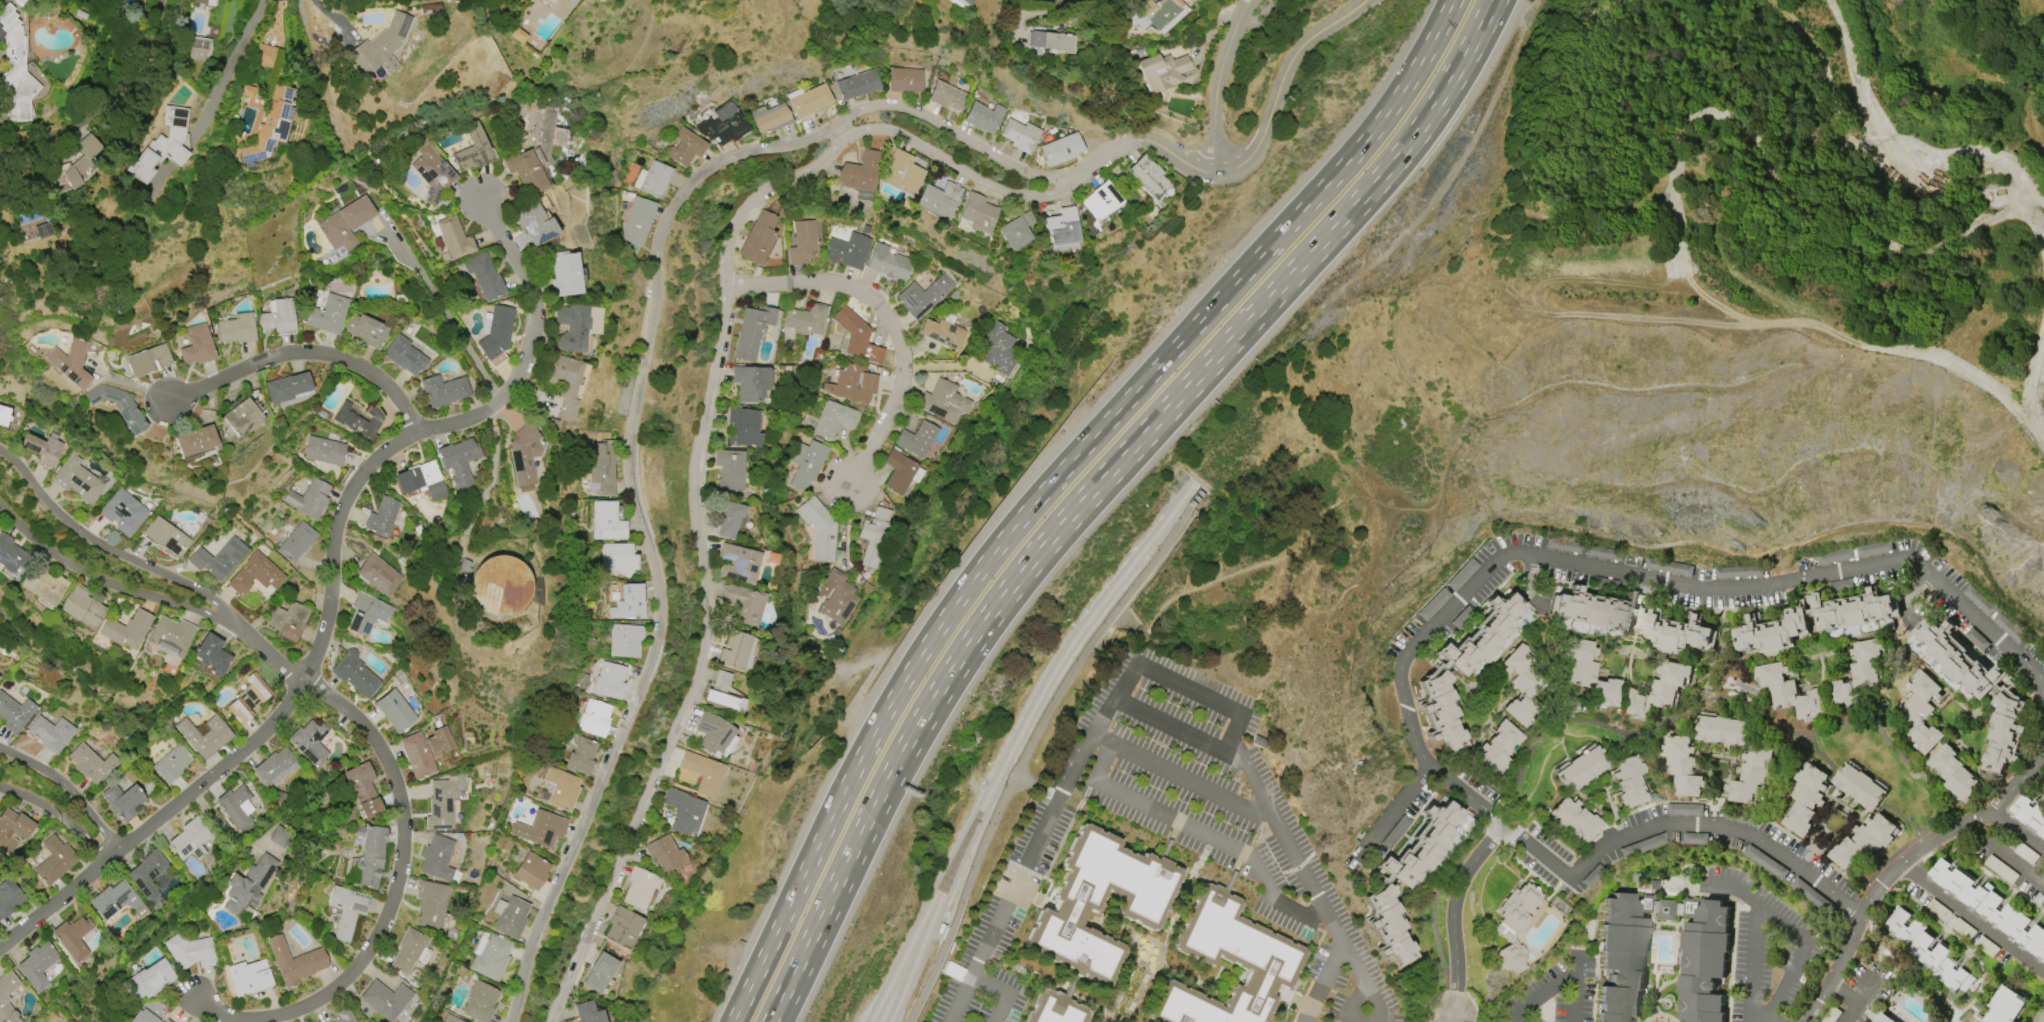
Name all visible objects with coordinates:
building: (556, 0)
building: (598, 0)
building: (601, 0)
building: (21, 2)
building: (205, 2)
building: (548, 2)
building: (964, 2)
building: (1152, 14)
road: (338, 18)
road: (1232, 34)
building: (1050, 41)
building: (382, 45)
building: (196, 47)
building: (265, 56)
road: (243, 61)
road: (1847, 63)
building: (15, 68)
building: (1162, 71)
building: (905, 80)
building: (858, 85)
road: (1283, 87)
building: (946, 97)
building: (810, 101)
road: (106, 102)
building: (983, 117)
building: (770, 118)
road: (1213, 123)
building: (722, 125)
building: (269, 126)
road: (840, 132)
road: (957, 135)
building: (1019, 135)
road: (1145, 141)
building: (162, 145)
building: (685, 148)
building: (1061, 149)
building: (474, 150)
building: (75, 166)
building: (525, 171)
road: (963, 171)
building: (861, 172)
building: (901, 172)
building: (432, 174)
building: (1147, 177)
building: (653, 179)
building: (939, 200)
building: (1101, 201)
building: (979, 213)
building: (637, 221)
building: (344, 223)
building: (533, 223)
building: (1061, 227)
building: (42, 230)
building: (1017, 231)
building: (454, 238)
building: (758, 238)
building: (803, 242)
building: (848, 250)
building: (888, 263)
building: (566, 275)
building: (484, 276)
building: (923, 296)
building: (328, 315)
building: (278, 317)
building: (805, 320)
road: (889, 320)
building: (572, 327)
building: (236, 329)
building: (366, 331)
building: (496, 331)
building: (752, 331)
building: (943, 333)
road: (459, 336)
building: (857, 337)
road: (531, 342)
building: (197, 346)
building: (996, 349)
road: (304, 353)
building: (405, 355)
building: (148, 360)
building: (70, 363)
building: (565, 383)
building: (750, 383)
building: (855, 383)
road: (131, 385)
building: (287, 387)
building: (444, 391)
building: (944, 402)
building: (117, 406)
building: (4, 415)
building: (241, 418)
road: (1154, 418)
building: (834, 419)
building: (357, 420)
building: (743, 427)
building: (917, 439)
building: (194, 440)
building: (41, 448)
building: (324, 451)
building: (524, 456)
building: (459, 462)
building: (807, 462)
building: (602, 469)
building: (730, 470)
building: (901, 472)
building: (78, 479)
building: (421, 481)
road: (1052, 481)
road: (487, 487)
building: (309, 499)
building: (123, 512)
road: (340, 513)
building: (381, 517)
building: (729, 519)
building: (606, 522)
building: (819, 529)
road: (642, 531)
building: (874, 535)
building: (166, 537)
building: (296, 543)
road: (115, 552)
building: (11, 556)
building: (218, 559)
building: (618, 559)
building: (738, 563)
road: (702, 565)
building: (465, 566)
building: (255, 574)
building: (379, 575)
road: (1634, 578)
building: (41, 583)
road: (114, 585)
building: (499, 585)
storage tank: (499, 585)
building: (835, 597)
building: (628, 603)
building: (744, 604)
building: (81, 607)
building: (1595, 611)
building: (1855, 611)
building: (367, 614)
building: (288, 621)
building: (126, 630)
building: (1676, 632)
building: (1770, 634)
building: (1482, 635)
building: (171, 636)
building: (625, 641)
building: (735, 650)
building: (211, 654)
building: (1956, 657)
road: (273, 658)
road: (1144, 666)
building: (1589, 673)
building: (354, 674)
building: (1857, 674)
building: (609, 681)
building: (1521, 686)
building: (1657, 690)
building: (720, 691)
building: (1790, 691)
building: (248, 699)
building: (395, 711)
building: (1440, 712)
building: (1922, 712)
building: (14, 713)
building: (594, 719)
road: (1177, 726)
building: (1721, 730)
building: (50, 733)
building: (715, 734)
building: (2004, 734)
building: (204, 736)
railway: (1015, 741)
road: (1033, 741)
building: (310, 743)
building: (1497, 747)
building: (424, 751)
road: (240, 753)
building: (581, 756)
building: (91, 763)
building: (171, 764)
building: (1683, 764)
building: (276, 767)
building: (1581, 769)
road: (2027, 772)
building: (703, 773)
building: (1954, 773)
building: (1751, 774)
road: (1181, 775)
building: (1629, 782)
building: (1860, 786)
road: (68, 788)
building: (561, 789)
building: (363, 790)
building: (1806, 799)
building: (123, 801)
building: (443, 802)
building: (237, 808)
building: (1685, 809)
building: (683, 811)
road: (1400, 811)
building: (2030, 814)
road: (58, 815)
building: (1573, 819)
road: (1684, 821)
building: (540, 829)
building: (12, 830)
parking lot: (1171, 831)
road: (1198, 833)
building: (282, 837)
building: (190, 840)
building: (1863, 841)
building: (1423, 846)
road: (2003, 852)
building: (666, 854)
building: (370, 855)
building: (437, 858)
building: (54, 860)
road: (1892, 867)
building: (531, 871)
building: (148, 874)
road: (2042, 876)
building: (249, 885)
building: (639, 888)
building: (9, 897)
road: (59, 898)
road: (391, 899)
building: (117, 901)
building: (1098, 903)
building: (430, 904)
building: (1991, 907)
building: (346, 910)
road: (1971, 914)
building: (510, 916)
road: (1458, 925)
building: (1514, 925)
railway: (930, 926)
building: (623, 927)
building: (1389, 927)
building: (73, 937)
road: (807, 940)
road: (813, 940)
road: (1957, 942)
road: (1752, 944)
road: (1800, 948)
building: (189, 950)
building: (407, 950)
building: (1928, 950)
building: (1243, 954)
building: (490, 955)
building: (1661, 959)
building: (294, 962)
building: (37, 965)
building: (600, 972)
building: (248, 977)
building: (148, 980)
road: (1322, 982)
road: (1574, 984)
road: (1843, 988)
road: (1003, 992)
road: (1539, 992)
building: (8, 997)
road: (1855, 998)
building: (385, 1000)
building: (480, 1002)
building: (2006, 1006)
building: (1055, 1009)
building: (589, 1012)
building: (345, 1016)
park: (2041, 1016)
building: (143, 1017)
road: (1461, 1018)
road: (1506, 1018)
road: (1748, 1018)
building: (1881, 1018)
building: (451, 1019)
road: (1364, 1020)
building: (166, 1021)

